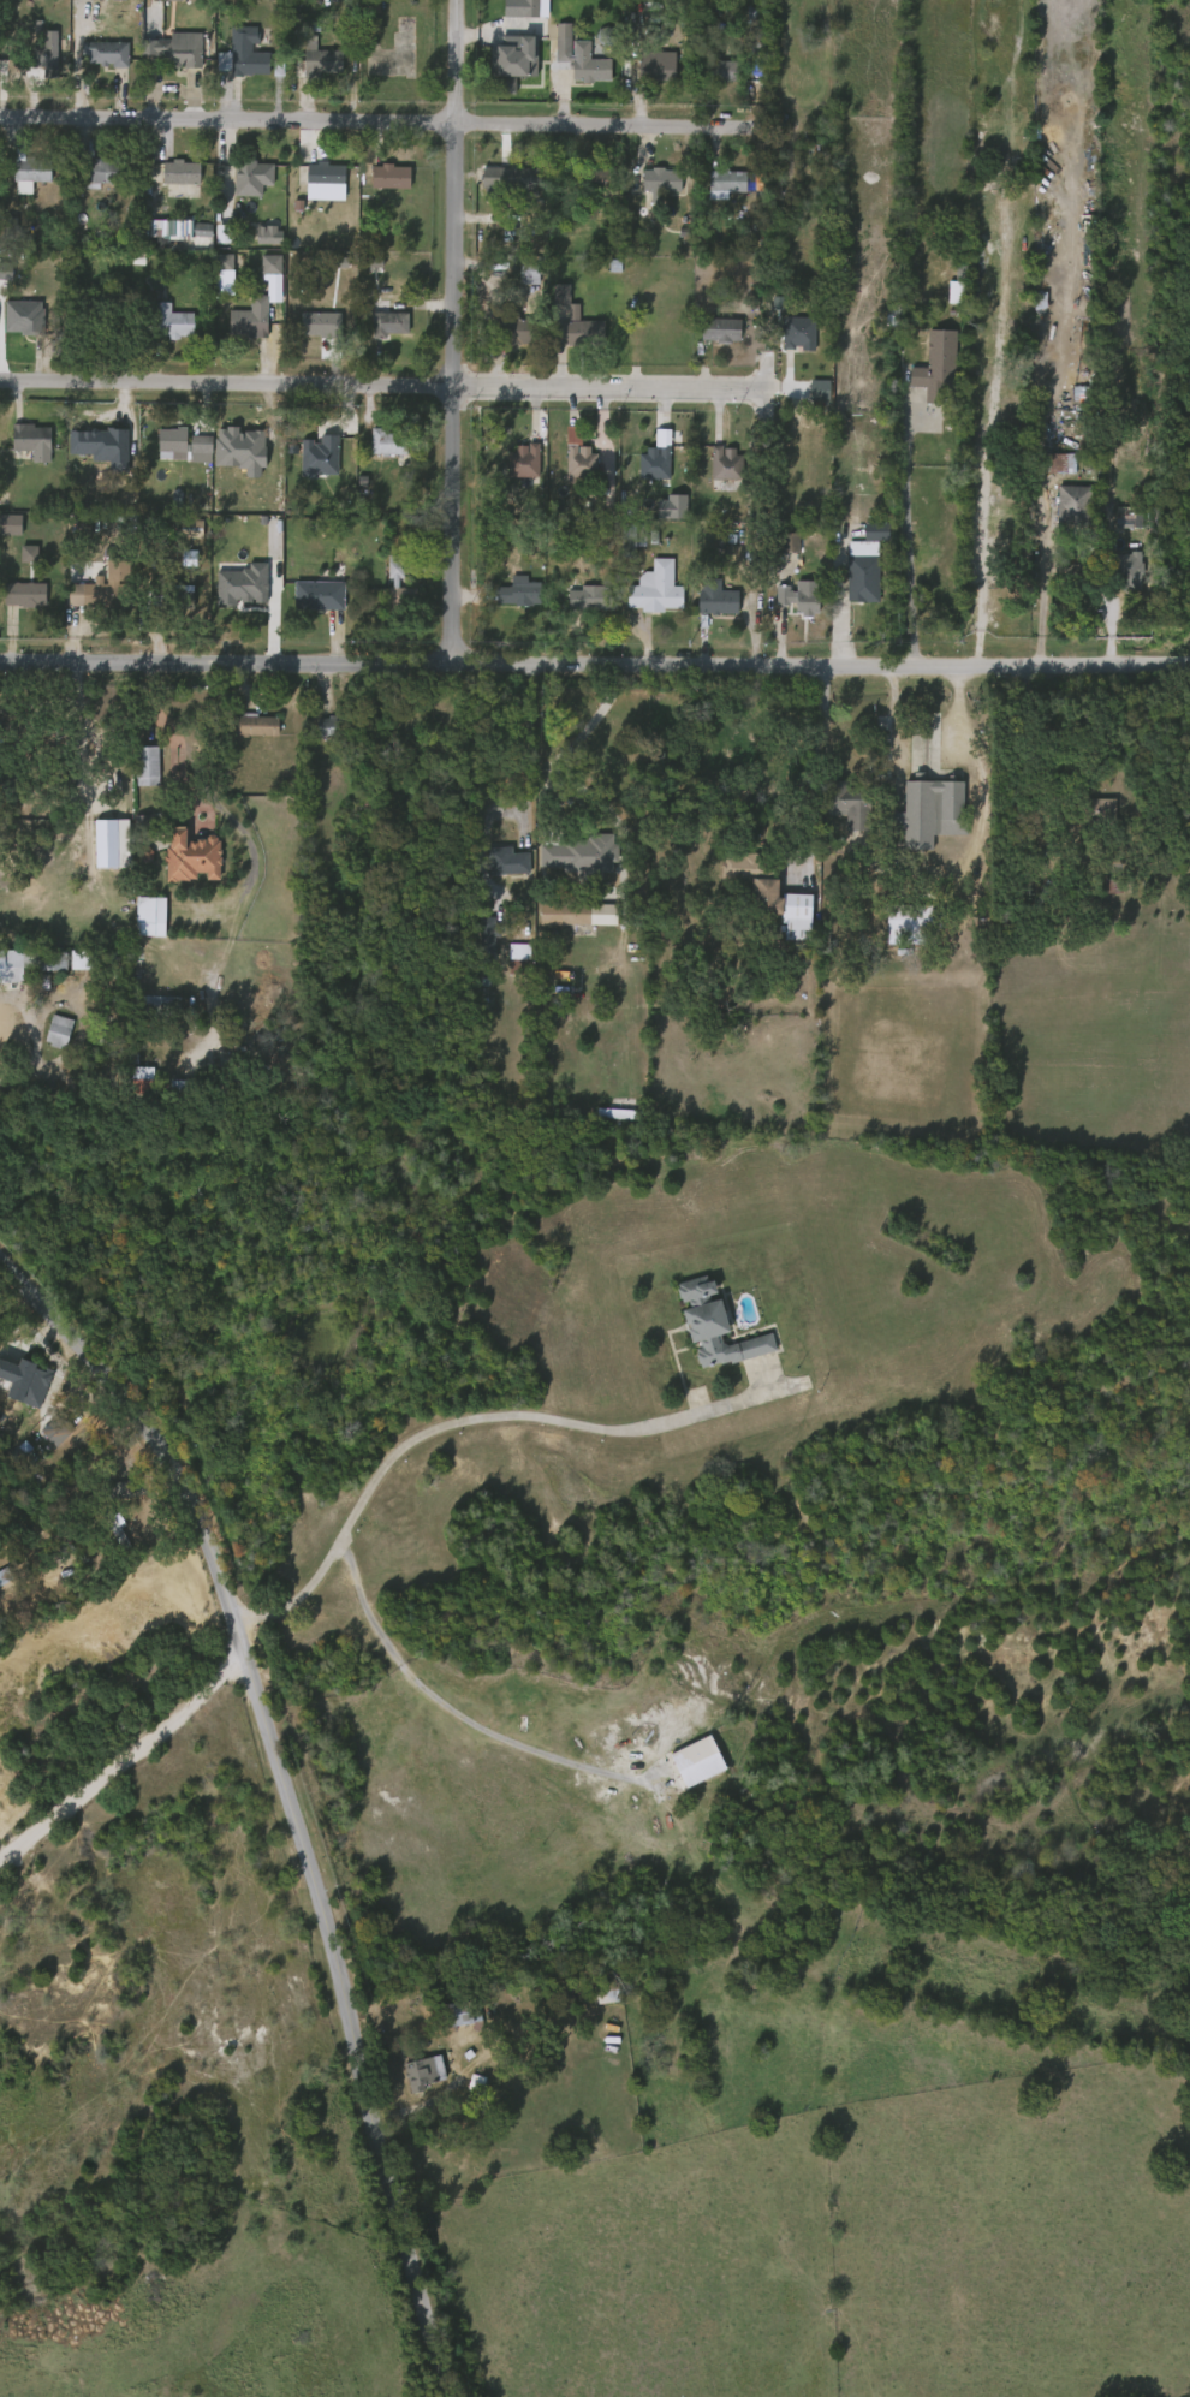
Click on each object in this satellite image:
building: (159, 4)
building: (508, 13)
building: (750, 23)
building: (560, 41)
building: (109, 52)
building: (182, 52)
building: (50, 53)
building: (246, 53)
building: (506, 54)
building: (34, 59)
building: (94, 60)
building: (319, 63)
building: (585, 64)
building: (653, 69)
building: (718, 71)
road: (363, 121)
building: (29, 171)
building: (105, 172)
building: (180, 173)
building: (331, 174)
building: (256, 176)
building: (391, 176)
building: (506, 178)
building: (89, 179)
building: (584, 179)
building: (658, 180)
building: (313, 182)
building: (722, 183)
building: (377, 184)
building: (239, 185)
building: (189, 233)
building: (210, 240)
building: (256, 242)
building: (212, 269)
building: (260, 282)
building: (958, 286)
building: (252, 320)
building: (169, 322)
building: (389, 323)
building: (325, 325)
building: (237, 326)
building: (718, 329)
building: (514, 331)
building: (307, 332)
road: (462, 332)
building: (796, 332)
building: (576, 333)
building: (935, 367)
road: (358, 387)
building: (808, 400)
building: (1085, 403)
building: (28, 434)
building: (183, 441)
building: (391, 445)
building: (316, 446)
building: (20, 447)
building: (375, 450)
building: (159, 451)
building: (88, 452)
building: (524, 460)
building: (581, 462)
building: (1057, 462)
building: (307, 463)
building: (653, 463)
building: (724, 464)
building: (569, 469)
building: (1071, 506)
road: (965, 528)
building: (632, 539)
road: (906, 539)
building: (780, 543)
building: (863, 564)
building: (1125, 571)
road: (1043, 577)
building: (401, 584)
building: (656, 588)
building: (386, 591)
building: (518, 593)
building: (24, 594)
building: (108, 594)
building: (319, 594)
building: (177, 596)
building: (590, 596)
building: (798, 597)
building: (715, 600)
building: (578, 605)
road: (838, 606)
road: (594, 666)
road: (891, 710)
road: (956, 714)
building: (255, 725)
building: (337, 726)
building: (316, 733)
road: (578, 736)
road: (82, 737)
road: (523, 755)
road: (821, 761)
building: (145, 763)
building: (135, 773)
building: (13, 780)
road: (202, 784)
building: (850, 804)
building: (932, 810)
building: (1100, 811)
building: (837, 813)
building: (1087, 817)
building: (71, 839)
building: (575, 852)
building: (191, 857)
building: (505, 860)
building: (1189, 864)
building: (494, 868)
building: (774, 894)
building: (565, 912)
building: (147, 915)
building: (910, 923)
building: (475, 935)
building: (488, 936)
building: (516, 959)
building: (5, 973)
building: (161, 1005)
building: (147, 1009)
building: (60, 1030)
building: (46, 1036)
building: (129, 1083)
building: (620, 1110)
building: (710, 1327)
building: (38, 1387)
building: (23, 1393)
building: (59, 1428)
road: (434, 1429)
building: (44, 1435)
building: (106, 1536)
building: (5, 1574)
building: (0, 1583)
road: (447, 1711)
building: (698, 1760)
road: (123, 1761)
road: (285, 1796)
building: (607, 1992)
building: (465, 2014)
building: (423, 2071)
road: (458, 2072)

